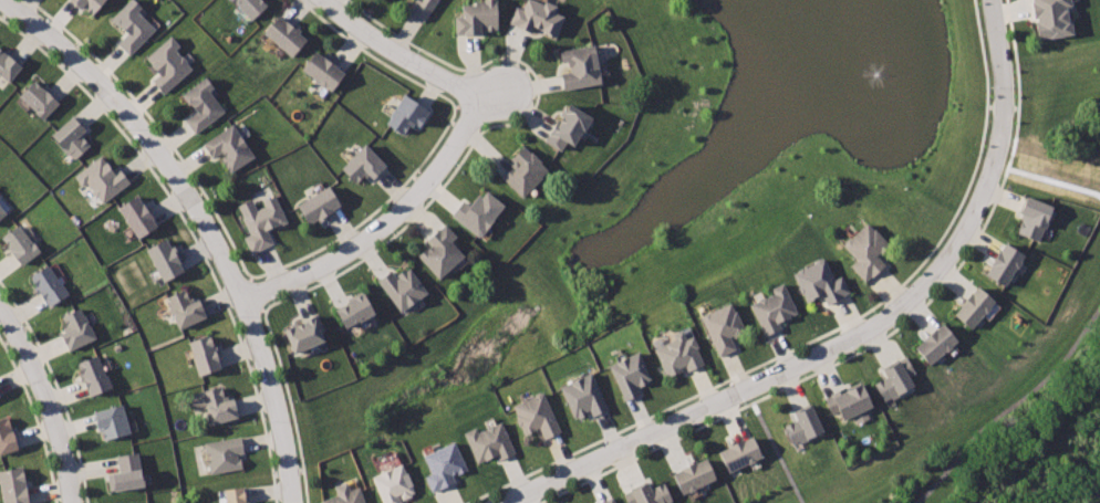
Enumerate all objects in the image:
building: (89, 6)
building: (252, 7)
building: (425, 8)
building: (540, 17)
building: (478, 18)
building: (1057, 19)
building: (133, 25)
building: (287, 36)
road: (997, 43)
road: (396, 52)
building: (170, 64)
building: (9, 65)
building: (582, 66)
building: (324, 72)
road: (489, 93)
fountain: (894, 94)
building: (40, 101)
building: (204, 105)
building: (409, 114)
building: (570, 128)
building: (73, 138)
building: (230, 148)
building: (366, 165)
building: (528, 170)
building: (104, 179)
road: (1046, 179)
building: (321, 206)
building: (3, 211)
building: (480, 213)
building: (139, 217)
building: (1036, 219)
road: (203, 220)
road: (382, 223)
building: (264, 224)
building: (23, 243)
building: (444, 252)
building: (869, 252)
building: (167, 261)
building: (1008, 265)
building: (823, 283)
building: (52, 285)
building: (405, 290)
building: (978, 307)
building: (188, 310)
building: (776, 310)
building: (359, 313)
building: (77, 329)
building: (725, 329)
building: (308, 336)
building: (940, 344)
building: (206, 355)
road: (818, 355)
building: (681, 356)
building: (95, 375)
building: (632, 376)
building: (900, 379)
building: (1, 395)
building: (584, 395)
road: (43, 401)
building: (854, 402)
building: (217, 405)
road: (1014, 413)
building: (538, 416)
building: (115, 422)
building: (807, 427)
building: (8, 437)
building: (490, 442)
road: (775, 447)
building: (226, 454)
building: (744, 455)
building: (444, 467)
building: (127, 473)
building: (696, 476)
building: (395, 485)
building: (14, 486)
building: (652, 494)
building: (238, 495)
building: (347, 496)
building: (610, 501)
building: (148, 502)

